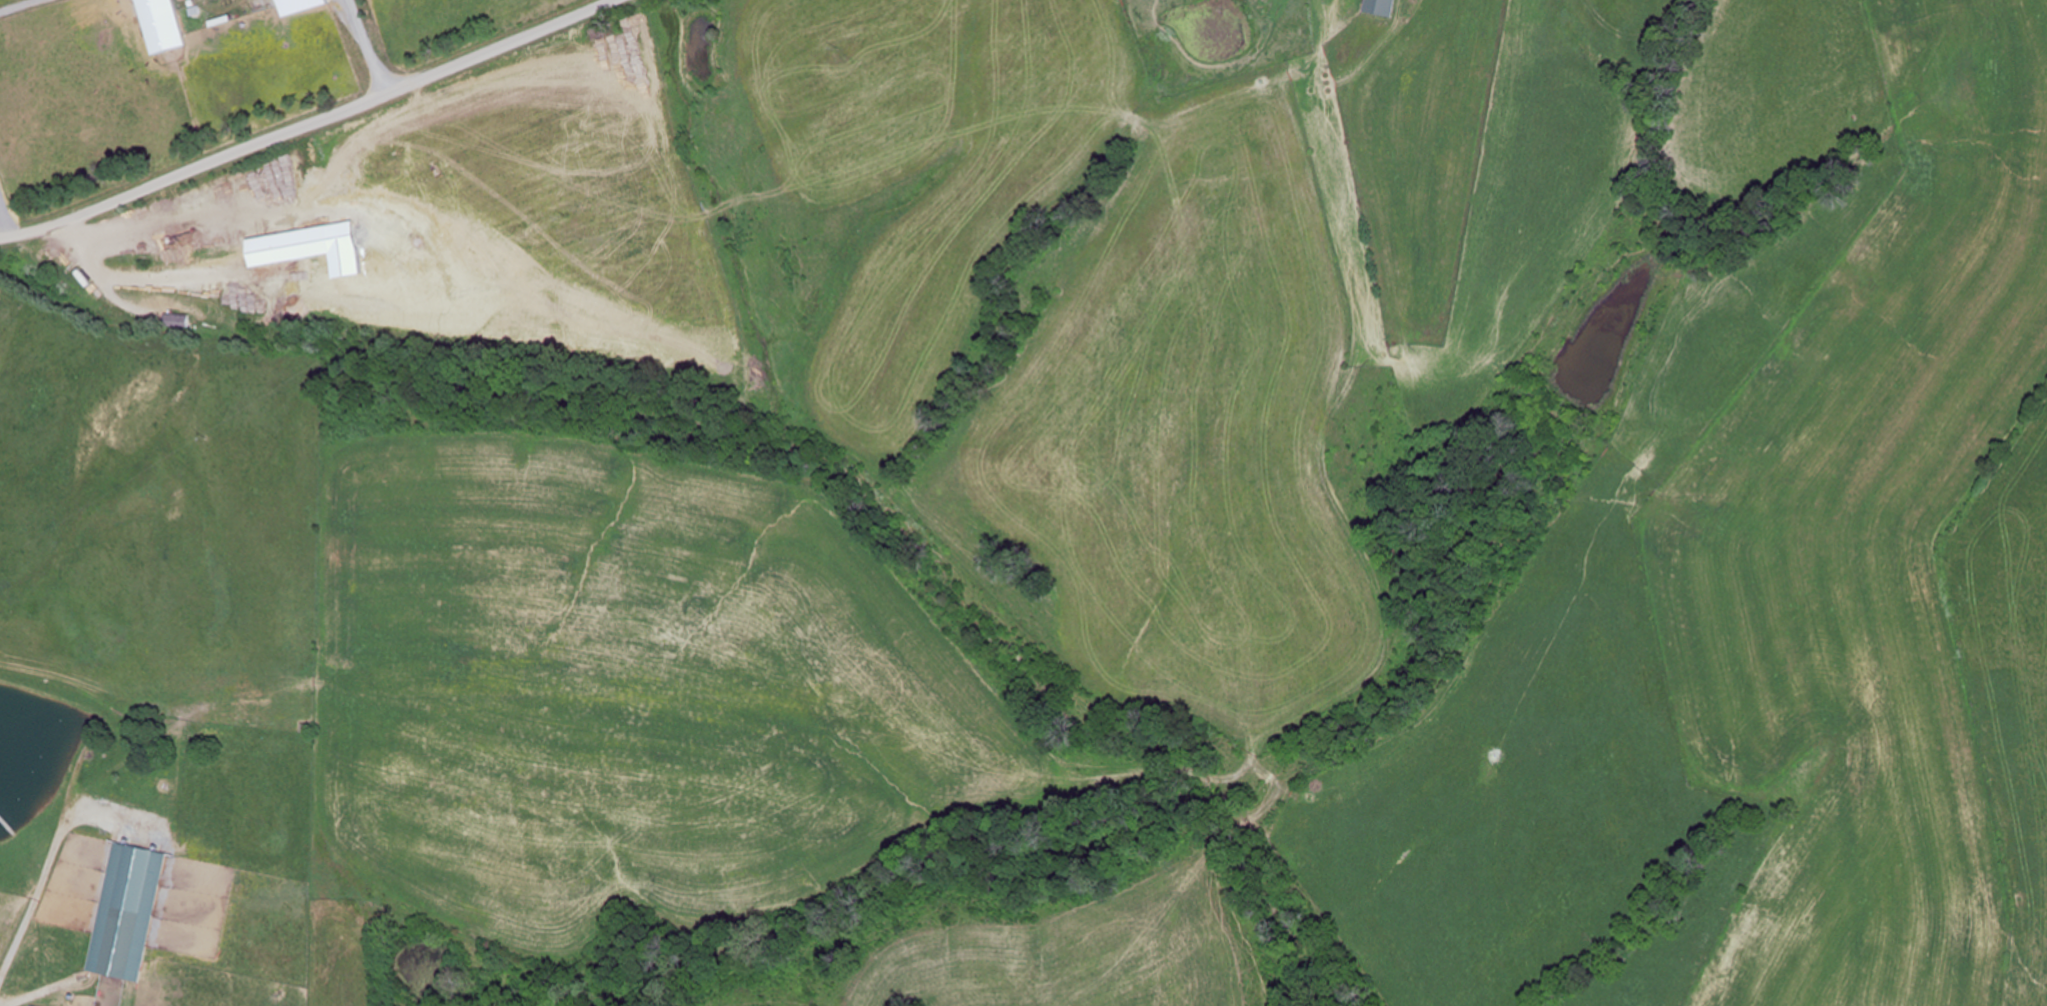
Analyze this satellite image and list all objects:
building: (1382, 8)
building: (160, 25)
road: (306, 123)
building: (176, 321)
building: (235, 706)
road: (57, 836)
building: (120, 942)

